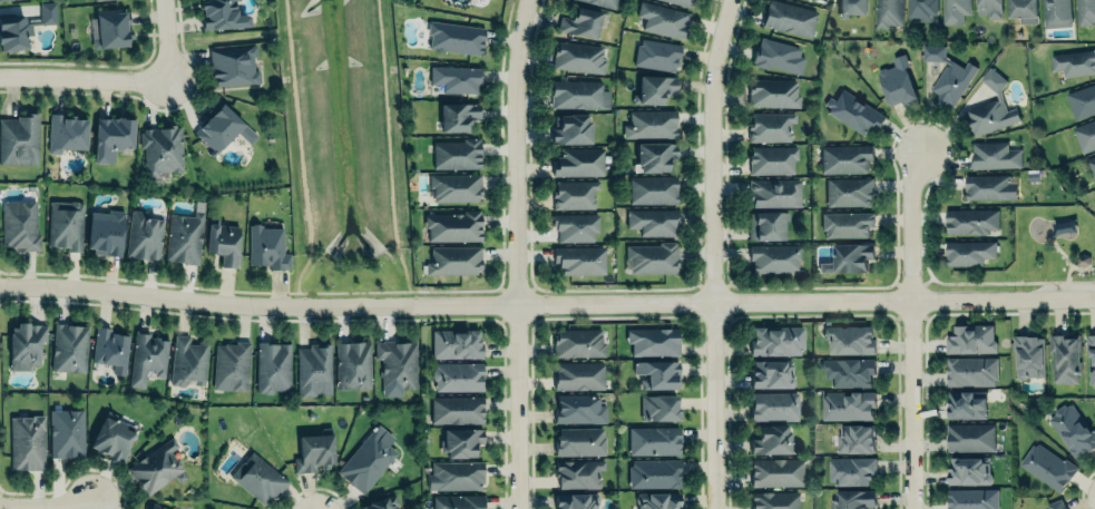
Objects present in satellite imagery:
building: (96, 0)
building: (813, 0)
building: (603, 2)
building: (681, 2)
building: (852, 8)
building: (990, 8)
building: (922, 9)
building: (1023, 10)
building: (955, 11)
building: (1085, 11)
building: (47, 12)
building: (1057, 12)
building: (889, 13)
building: (222, 14)
building: (790, 18)
building: (663, 19)
building: (580, 22)
building: (109, 28)
building: (12, 32)
building: (454, 38)
road: (166, 42)
building: (657, 53)
building: (778, 56)
building: (578, 57)
building: (1074, 63)
building: (234, 65)
building: (948, 75)
building: (456, 77)
road: (84, 80)
building: (654, 89)
building: (773, 91)
building: (579, 94)
building: (1082, 100)
building: (990, 110)
building: (854, 111)
building: (458, 117)
building: (651, 124)
building: (771, 126)
building: (221, 128)
building: (570, 129)
building: (67, 133)
building: (1085, 136)
building: (111, 137)
building: (19, 140)
road: (384, 147)
road: (297, 148)
building: (162, 149)
building: (456, 154)
building: (995, 155)
building: (654, 156)
building: (845, 158)
building: (772, 159)
building: (578, 161)
building: (1091, 167)
building: (454, 187)
building: (989, 187)
road: (500, 188)
building: (652, 189)
building: (774, 192)
building: (849, 192)
building: (575, 194)
building: (652, 222)
building: (970, 222)
building: (768, 224)
building: (847, 224)
building: (20, 225)
building: (65, 225)
building: (453, 226)
building: (575, 227)
building: (106, 232)
building: (144, 236)
building: (184, 238)
building: (223, 243)
building: (267, 247)
road: (518, 253)
road: (715, 253)
building: (968, 253)
building: (774, 257)
building: (652, 258)
building: (848, 258)
building: (579, 260)
building: (453, 261)
road: (351, 293)
road: (546, 304)
road: (911, 329)
building: (971, 336)
building: (848, 337)
building: (776, 339)
building: (653, 340)
building: (578, 341)
building: (456, 342)
building: (25, 345)
building: (69, 348)
building: (110, 349)
building: (1028, 353)
building: (146, 356)
building: (1064, 359)
building: (188, 361)
building: (1091, 361)
building: (352, 364)
building: (397, 365)
building: (231, 366)
building: (272, 366)
building: (313, 370)
building: (971, 371)
building: (658, 372)
building: (771, 372)
building: (848, 372)
building: (457, 374)
building: (578, 374)
building: (848, 403)
building: (967, 403)
building: (658, 405)
building: (774, 405)
building: (578, 408)
building: (457, 409)
building: (1073, 428)
building: (67, 432)
building: (970, 435)
building: (856, 437)
building: (111, 439)
building: (654, 439)
building: (771, 440)
building: (460, 441)
building: (579, 441)
building: (27, 442)
building: (315, 451)
building: (369, 457)
building: (156, 467)
building: (1047, 467)
building: (851, 468)
building: (776, 470)
building: (968, 470)
building: (653, 472)
building: (578, 473)
building: (454, 476)
building: (257, 479)
building: (657, 499)
building: (774, 499)
building: (852, 499)
building: (971, 499)
building: (577, 500)
building: (458, 501)
building: (381, 502)
building: (1055, 505)
road: (48, 507)
building: (156, 507)

